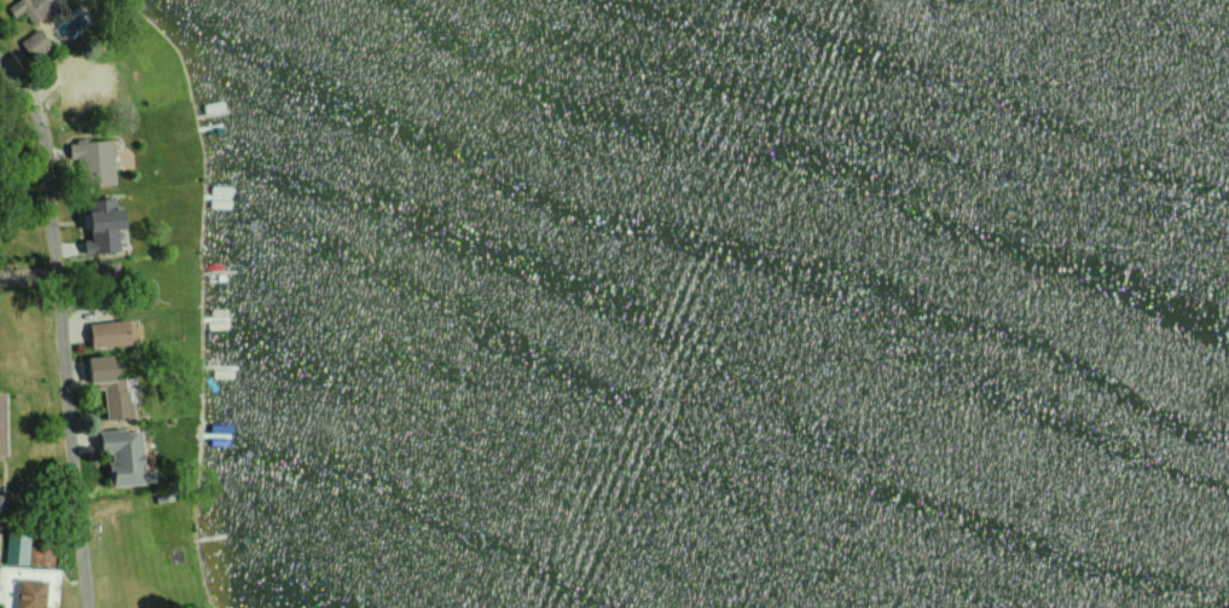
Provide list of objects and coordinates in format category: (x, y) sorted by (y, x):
building: (31, 8)
building: (34, 44)
building: (93, 161)
building: (102, 226)
road: (29, 268)
road: (63, 325)
building: (108, 332)
building: (108, 387)
building: (0, 428)
park: (29, 452)
building: (121, 456)
building: (0, 496)
building: (16, 551)

